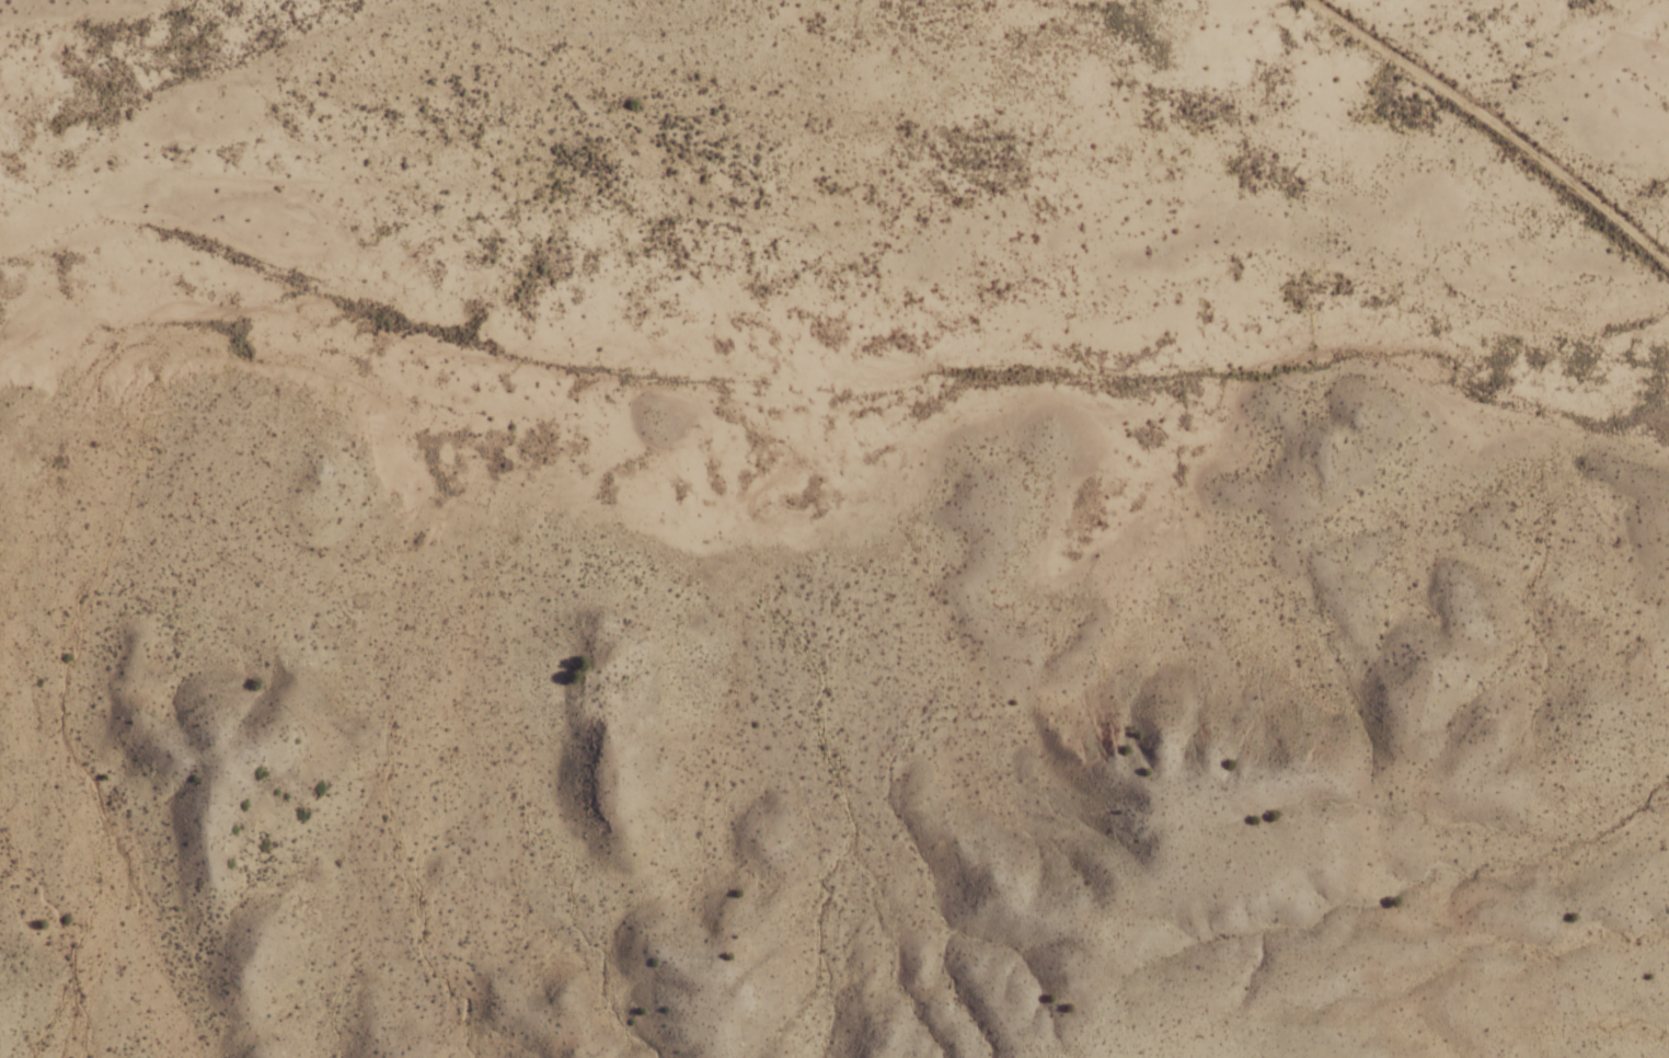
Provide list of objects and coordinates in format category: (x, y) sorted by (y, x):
road: (1522, 125)

